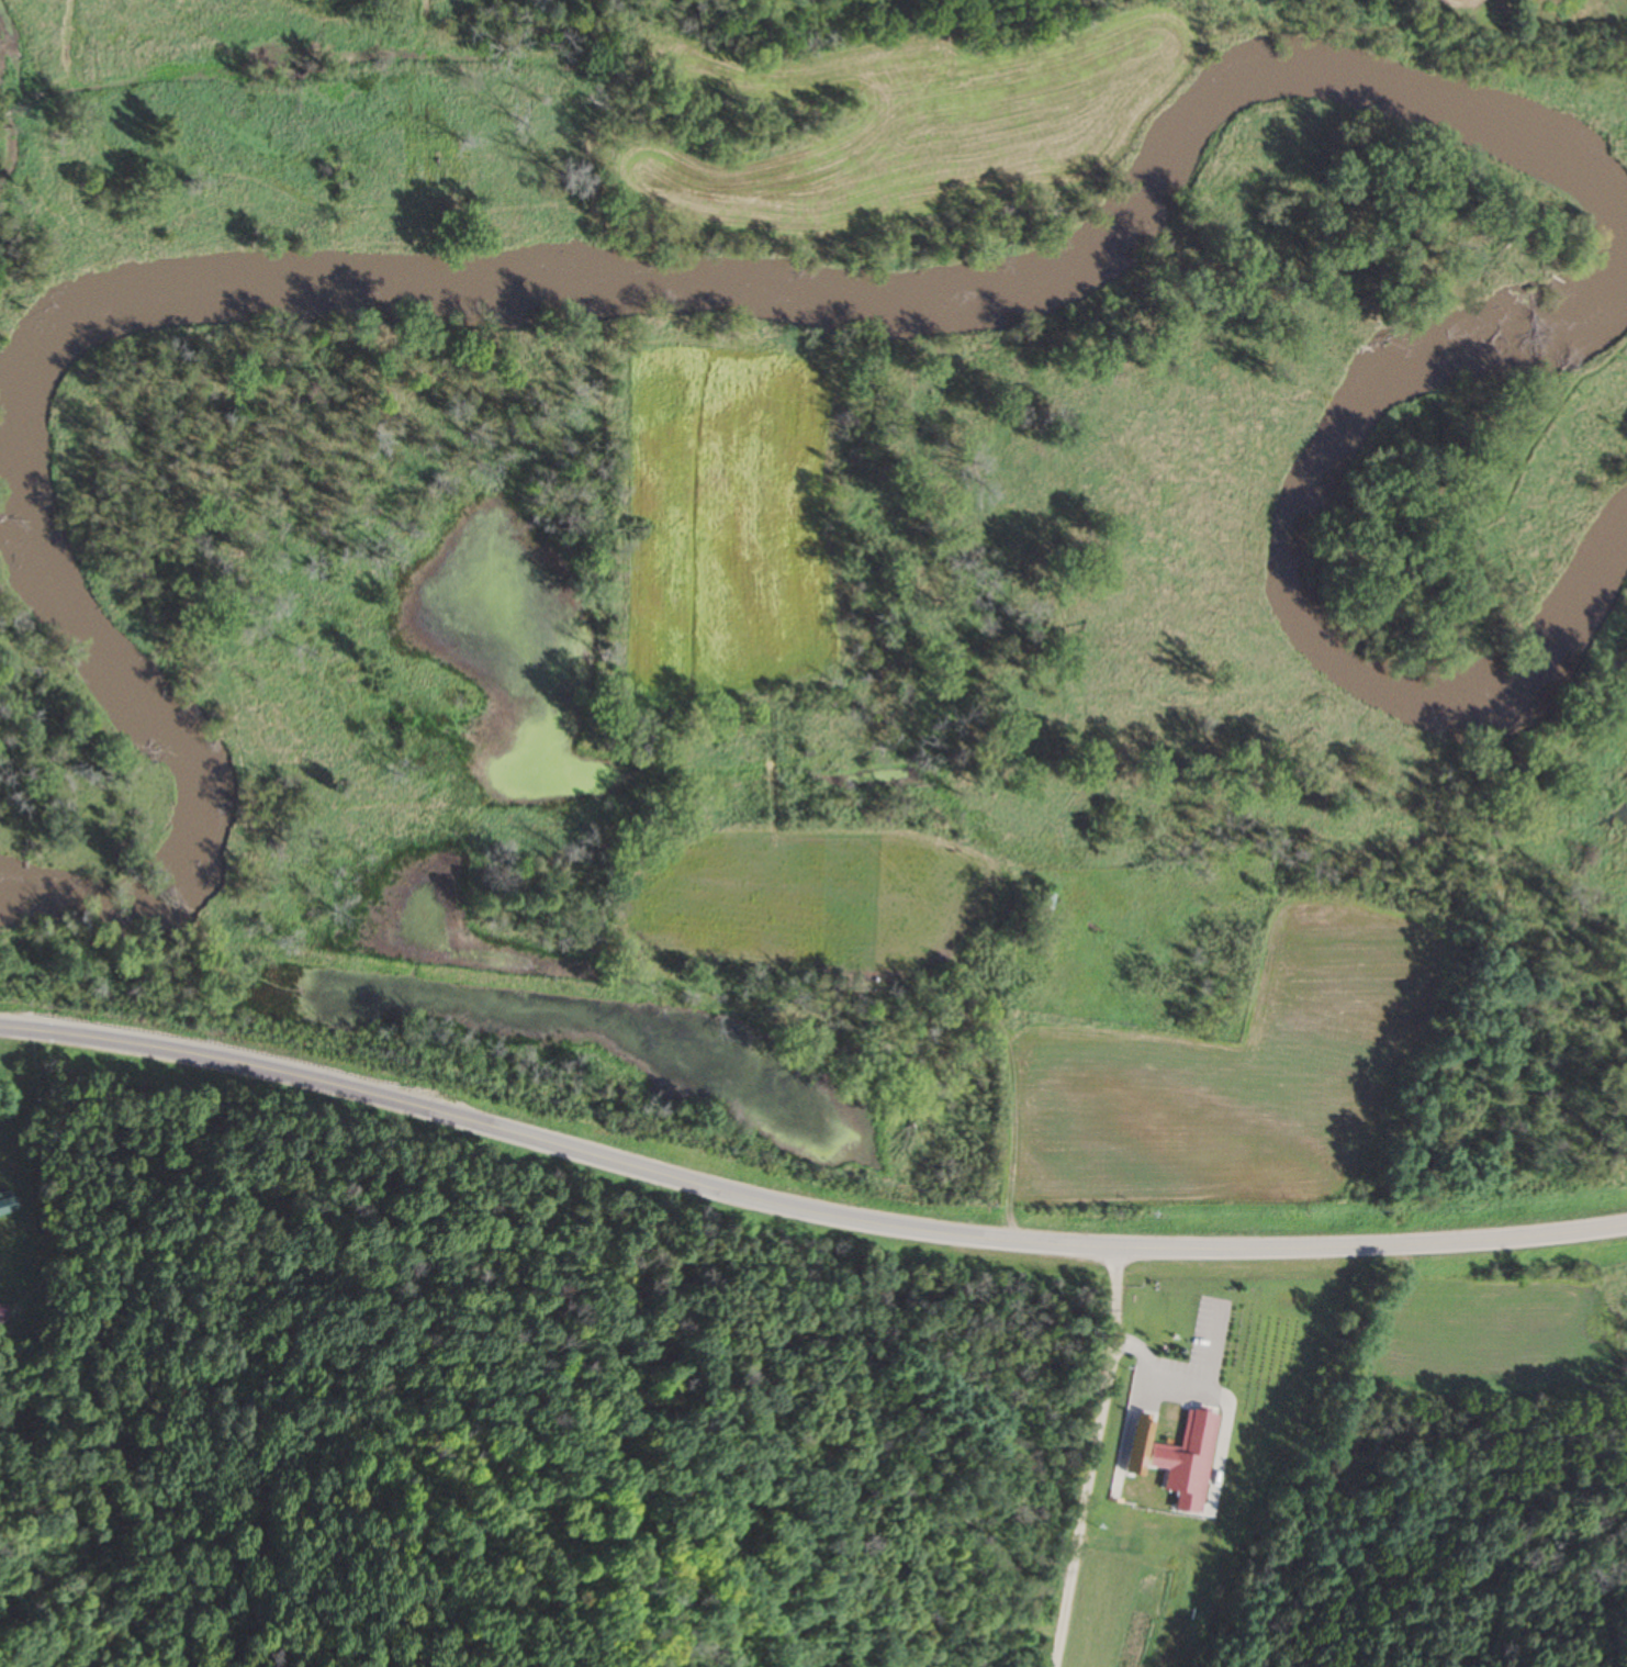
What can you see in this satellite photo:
river: (1558, 163)
river: (30, 439)
road: (804, 1210)
building: (3, 1211)
building: (1, 1316)
road: (1092, 1456)

